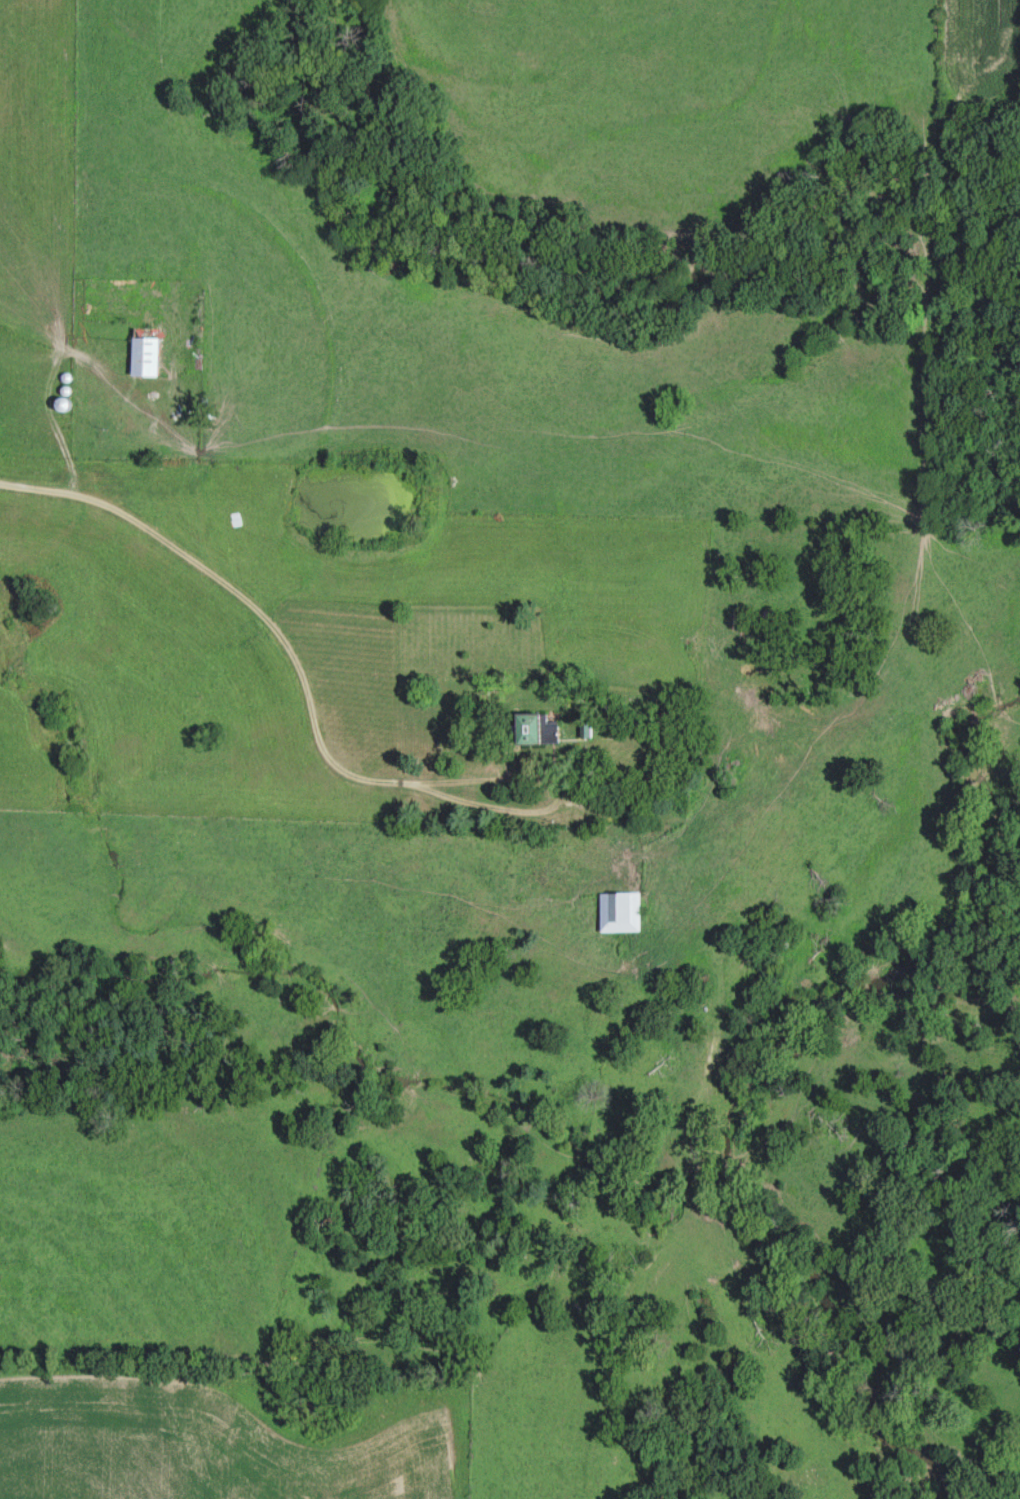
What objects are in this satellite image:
building: (146, 350)
road: (290, 648)
building: (533, 728)
building: (585, 728)
building: (620, 911)

